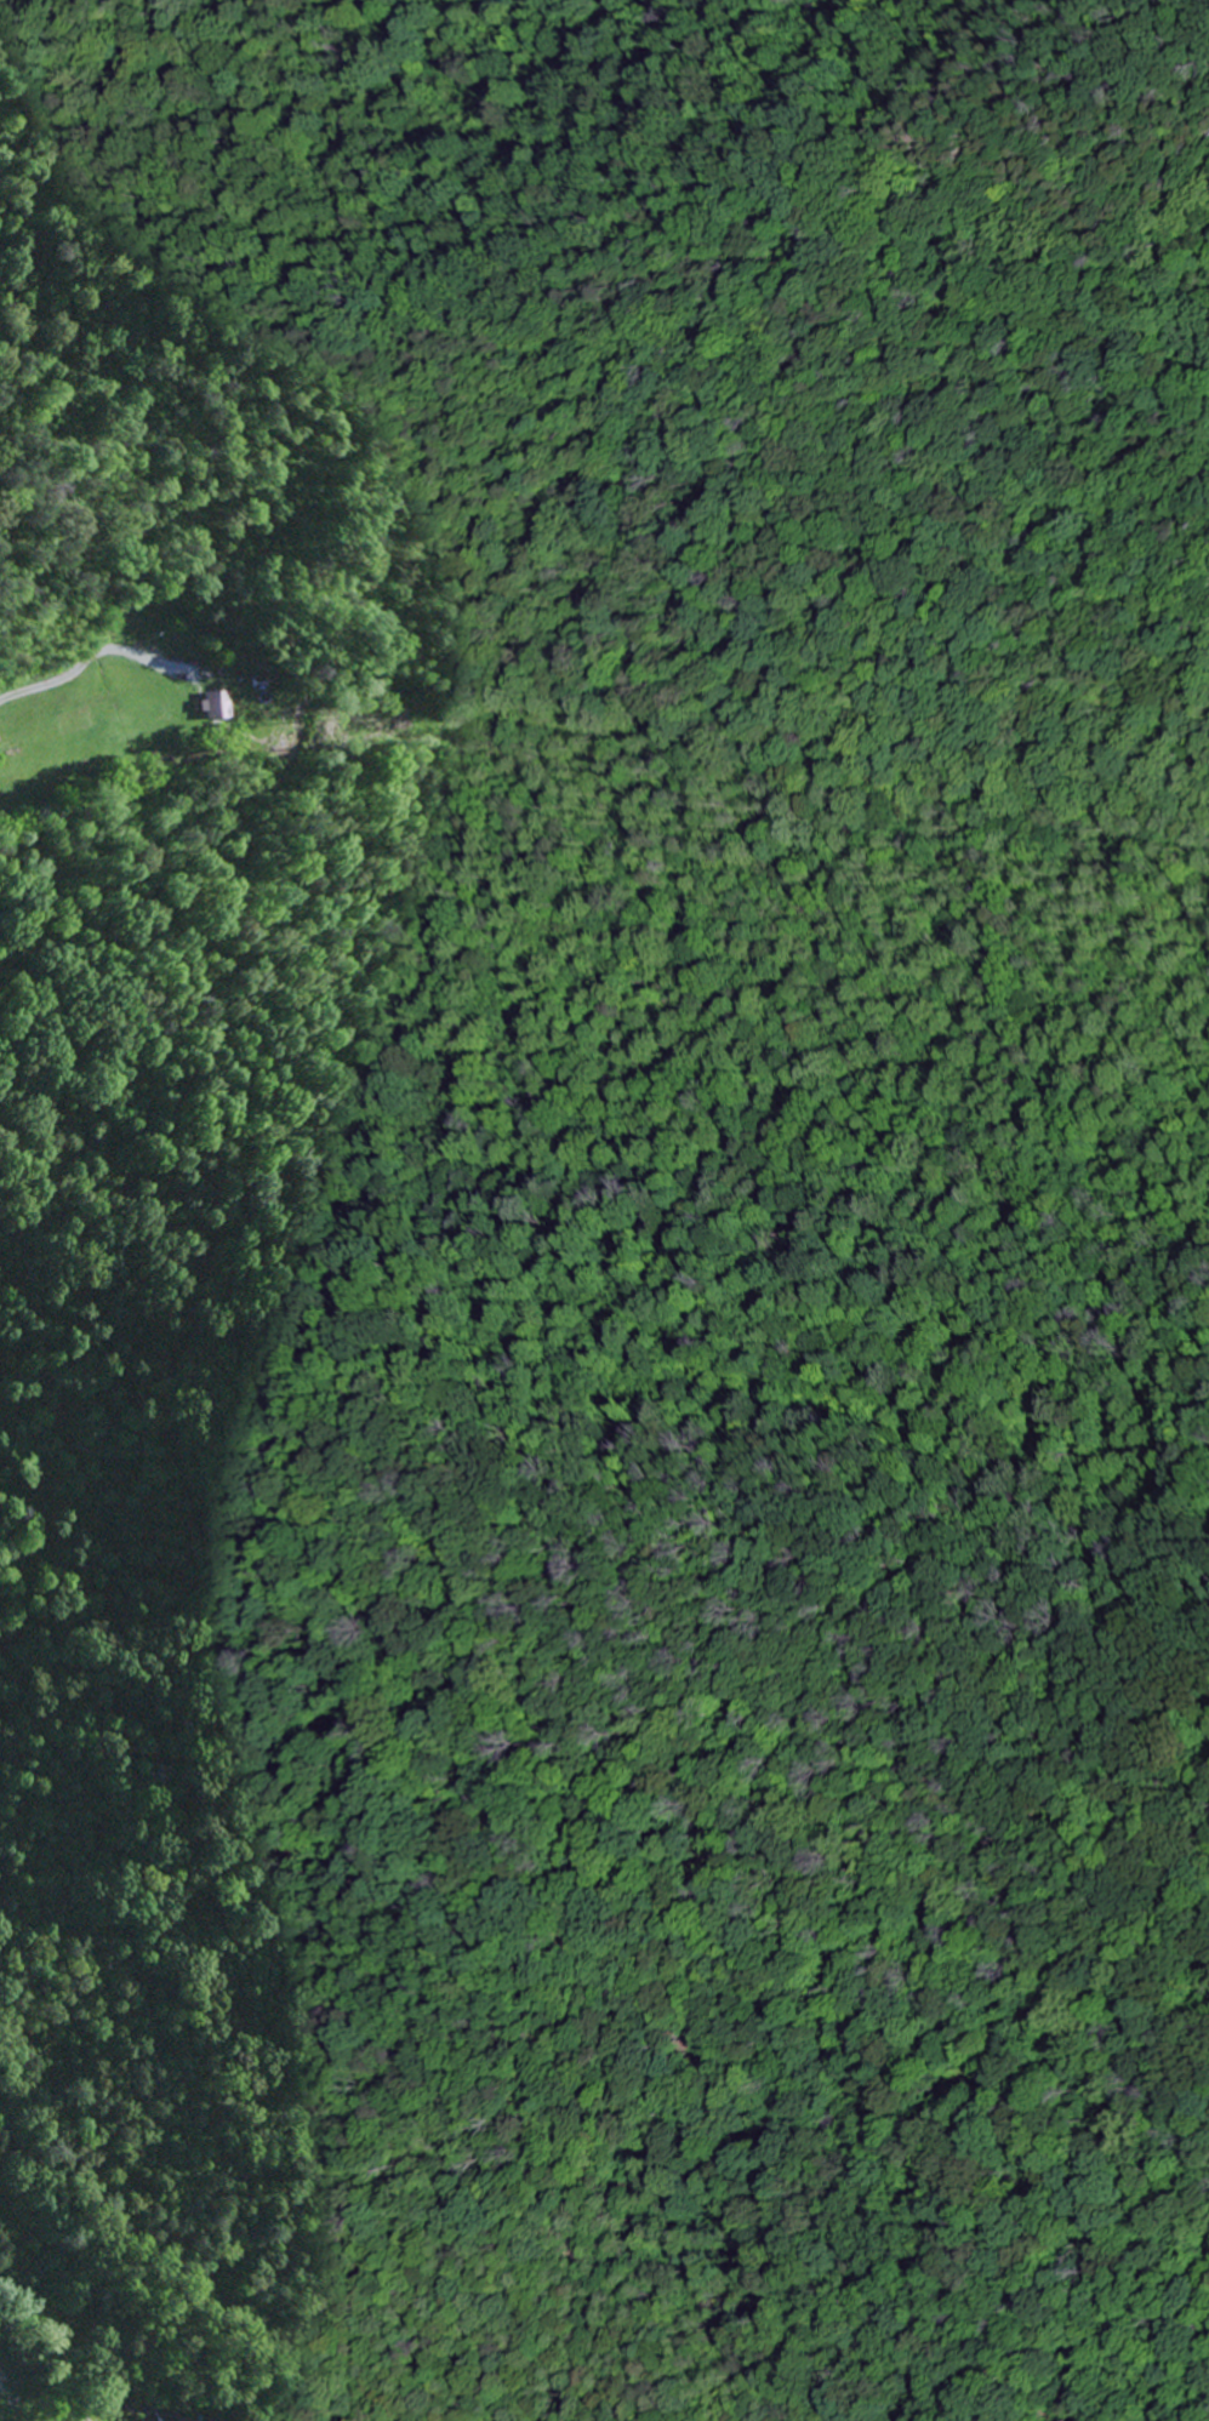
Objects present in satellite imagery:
road: (95, 653)
building: (222, 704)
building: (162, 2414)
building: (190, 2416)

